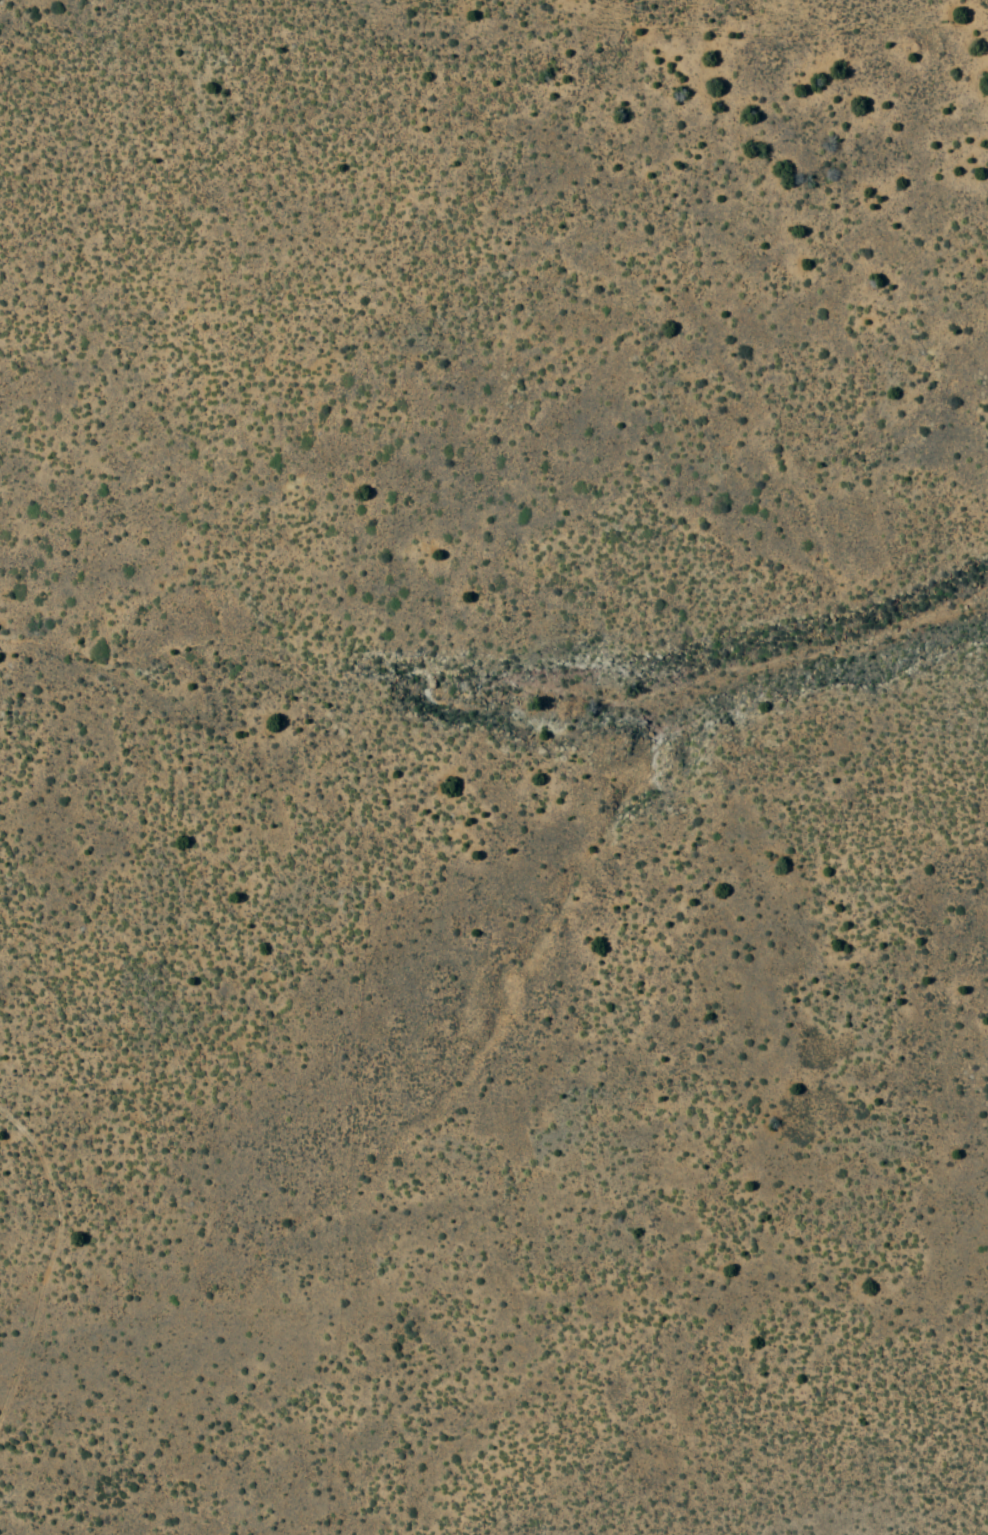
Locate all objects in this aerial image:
road: (47, 1283)

